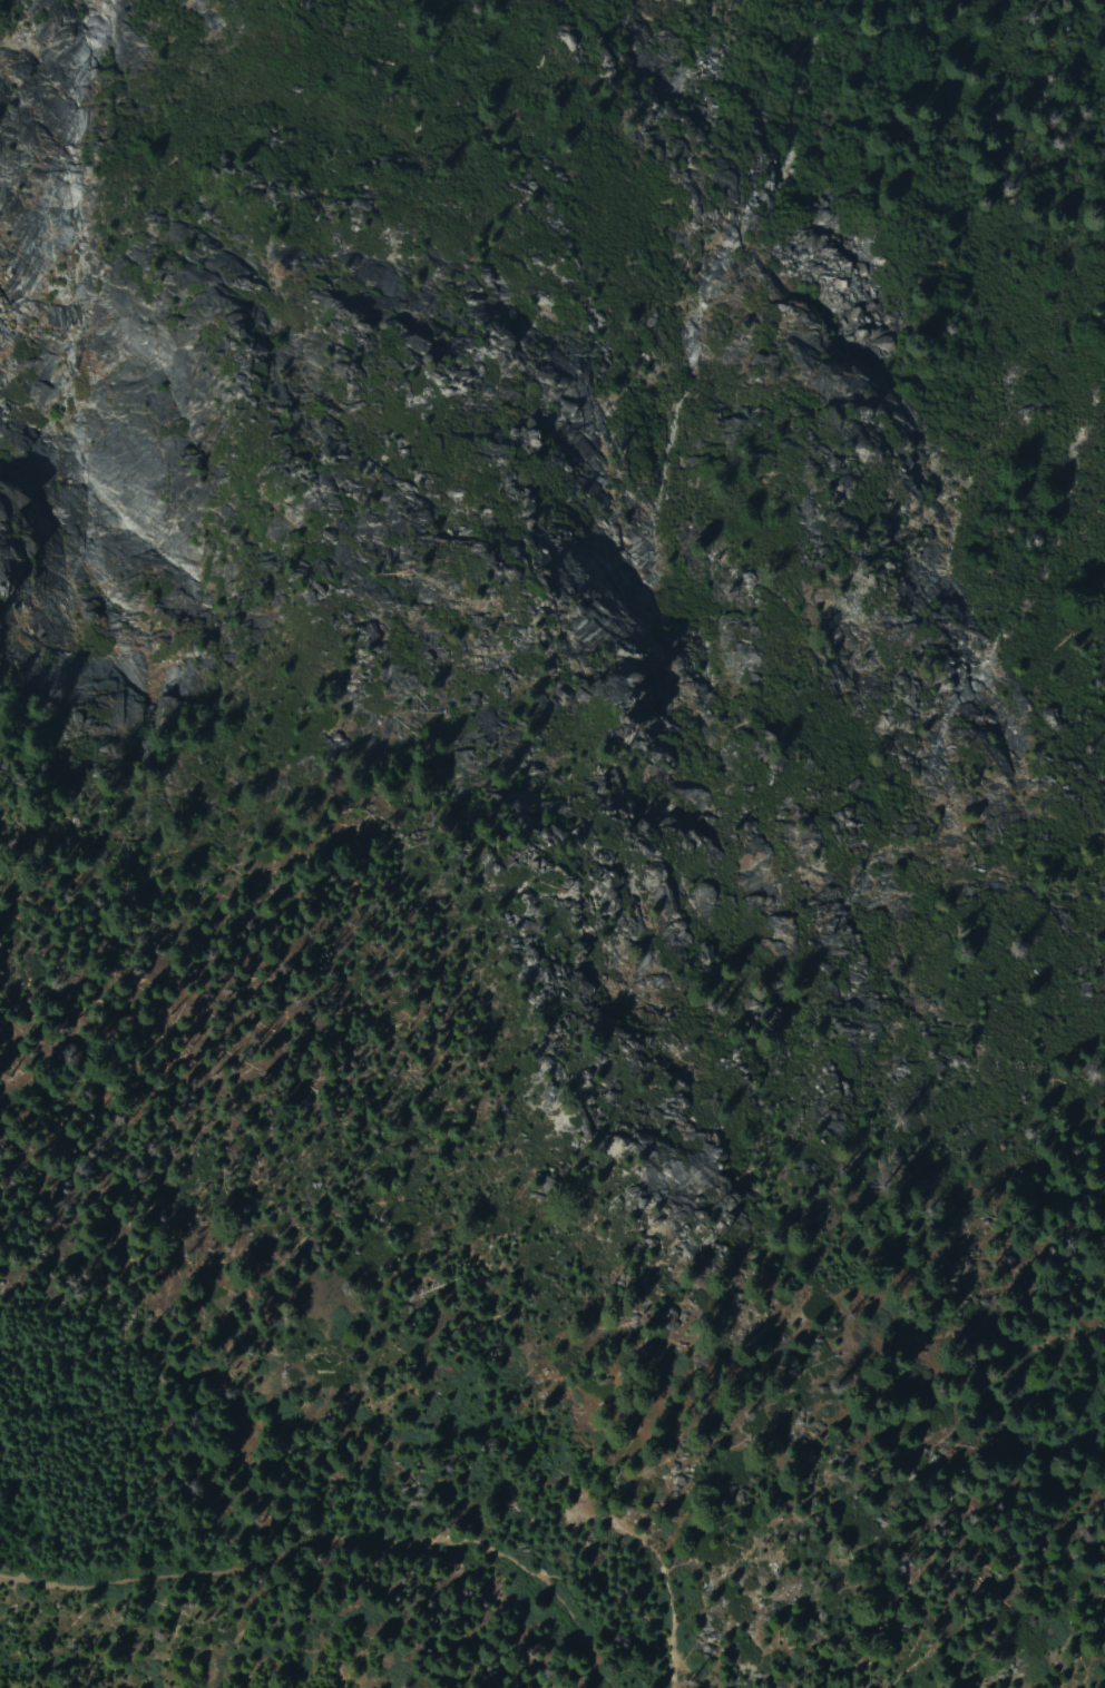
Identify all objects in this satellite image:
road: (1089, 1450)
road: (272, 1564)
road: (662, 1571)
road: (635, 1607)
road: (577, 1628)

